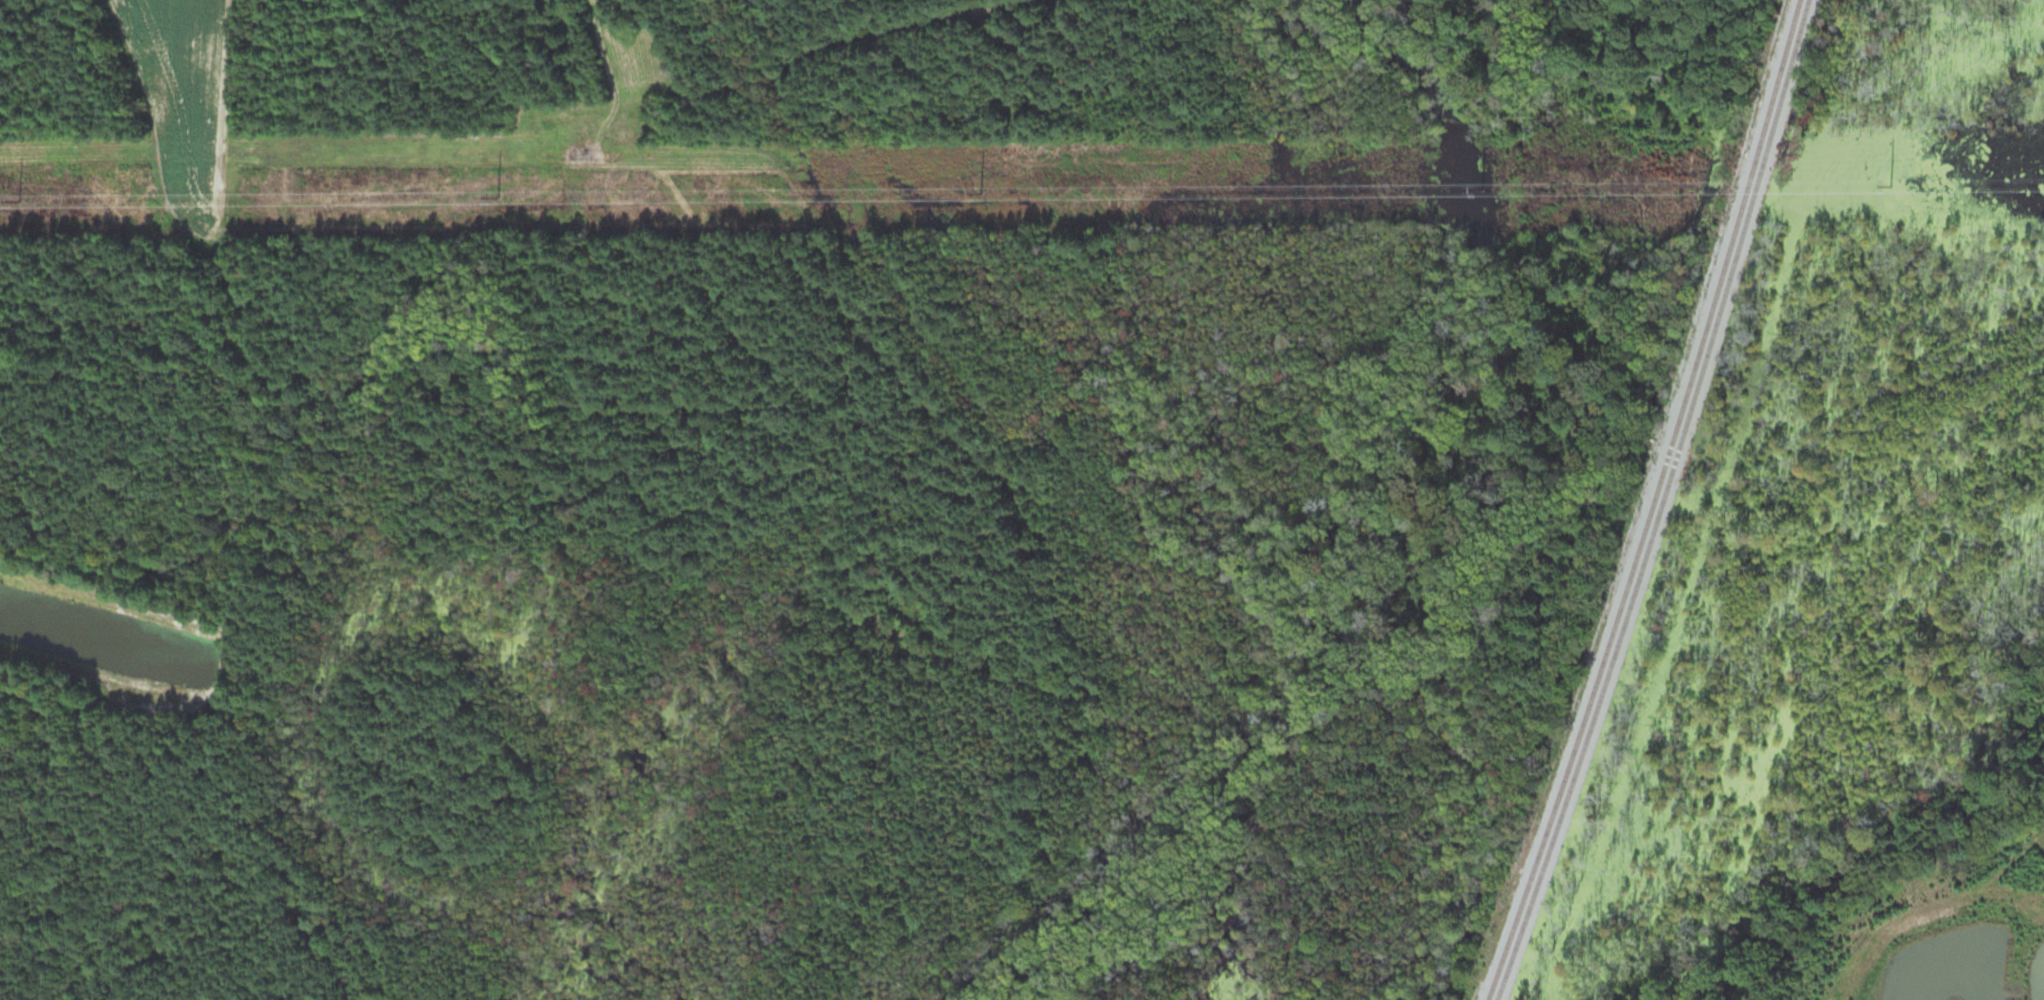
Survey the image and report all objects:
railway: (1654, 503)
railway: (1663, 503)

